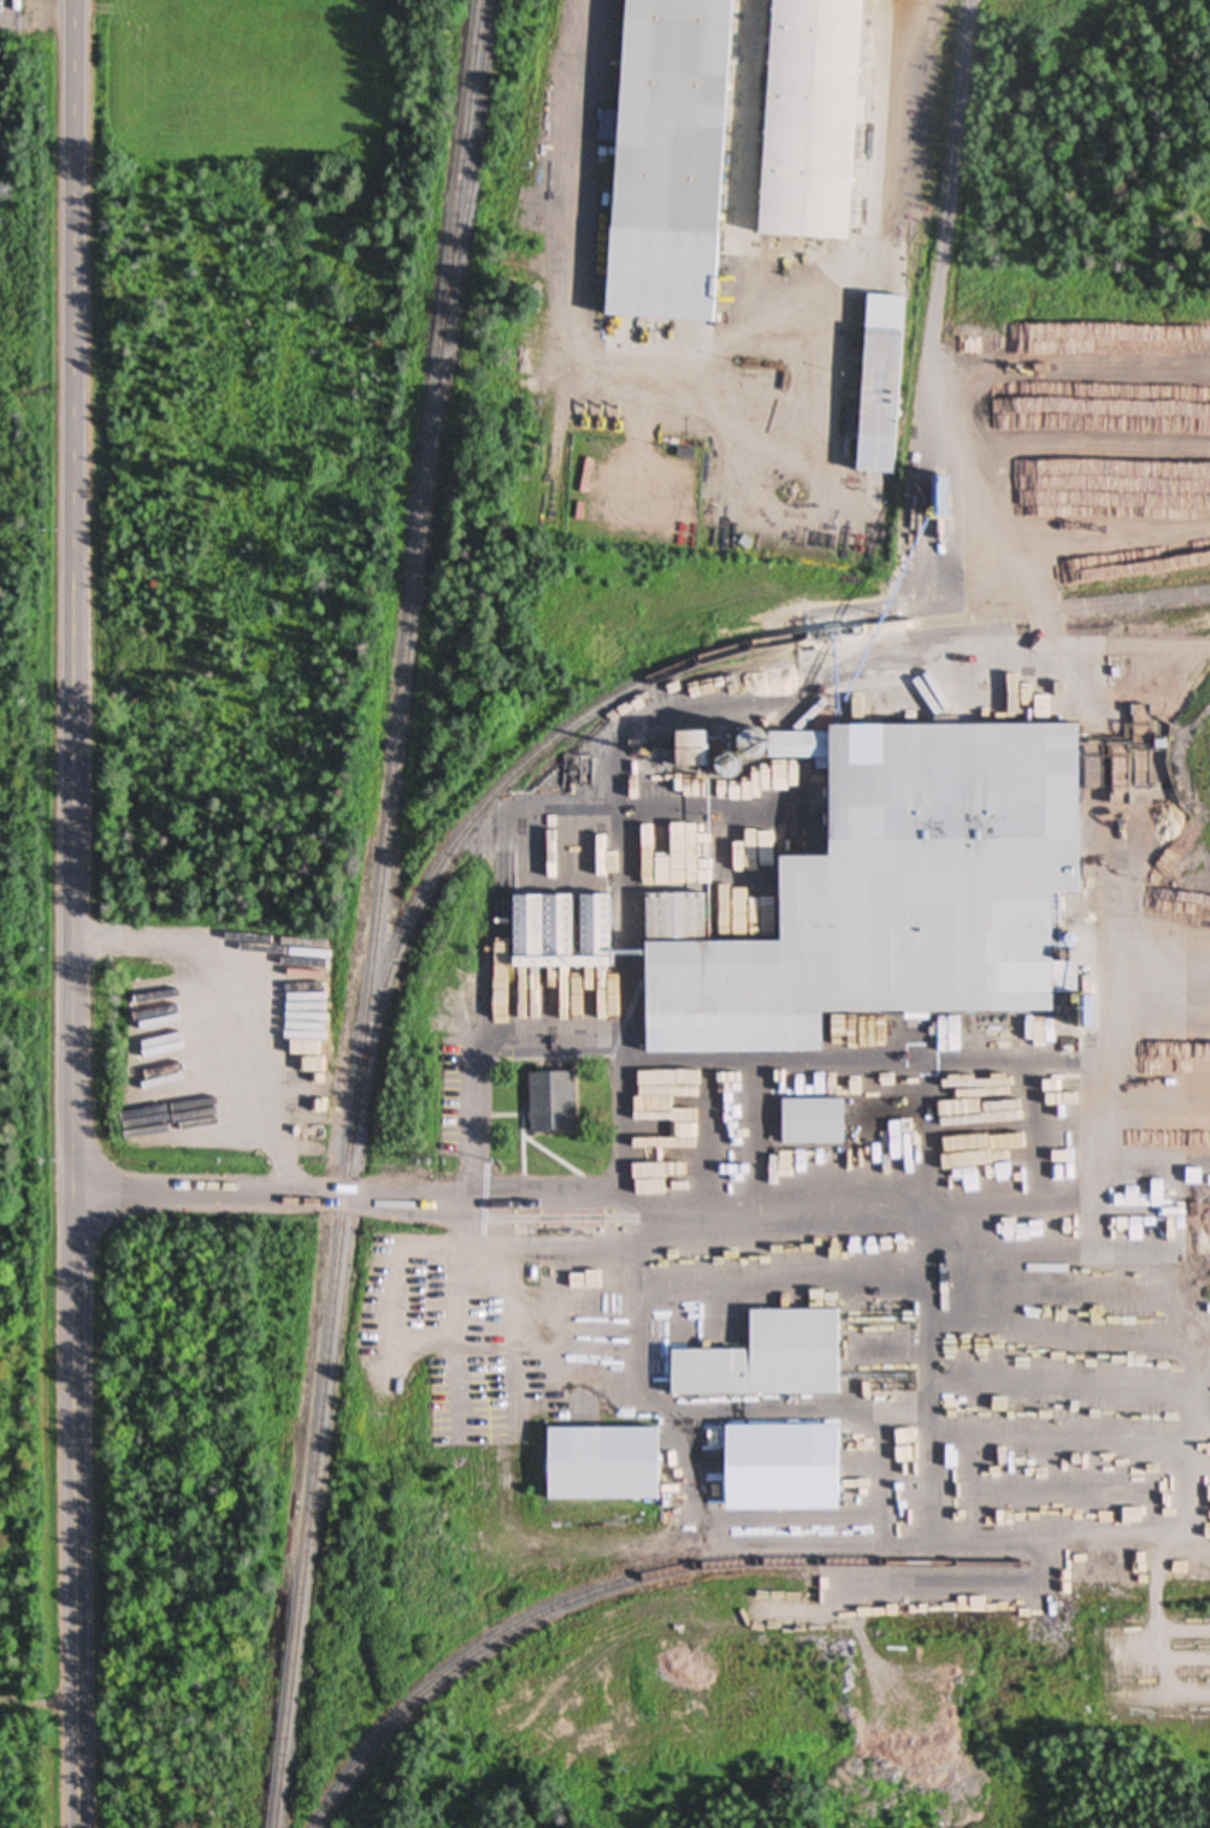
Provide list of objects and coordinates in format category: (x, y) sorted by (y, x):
building: (819, 119)
road: (957, 149)
building: (680, 158)
railway: (473, 171)
building: (875, 404)
railway: (656, 678)
road: (75, 791)
building: (902, 899)
railway: (374, 913)
building: (536, 928)
building: (548, 1104)
building: (146, 1138)
road: (504, 1201)
building: (763, 1360)
building: (597, 1466)
railway: (626, 1583)
road: (71, 1705)

